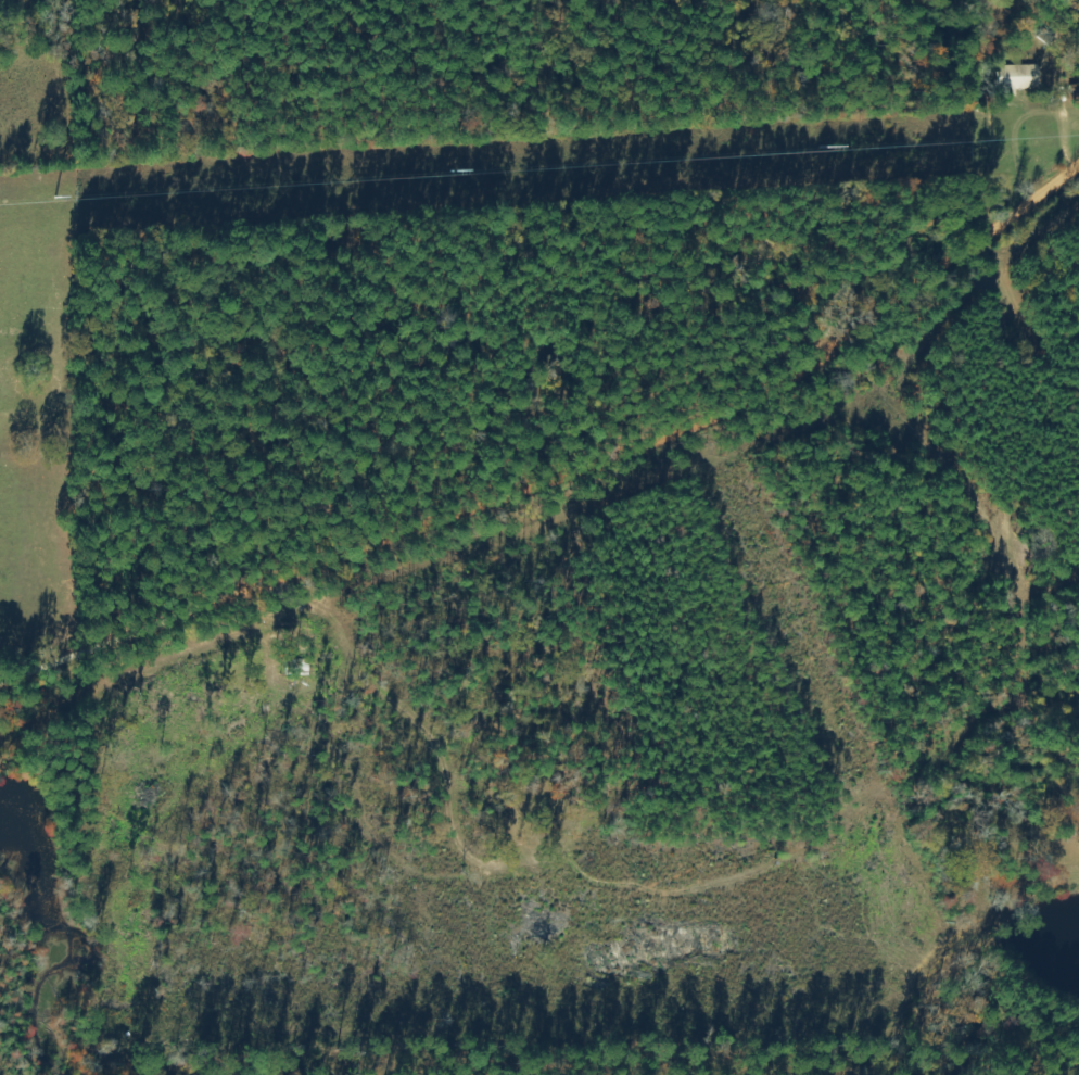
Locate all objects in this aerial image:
building: (1019, 78)
road: (939, 141)
power tower: (891, 150)
power tower: (600, 168)
power tower: (245, 191)
road: (570, 507)

